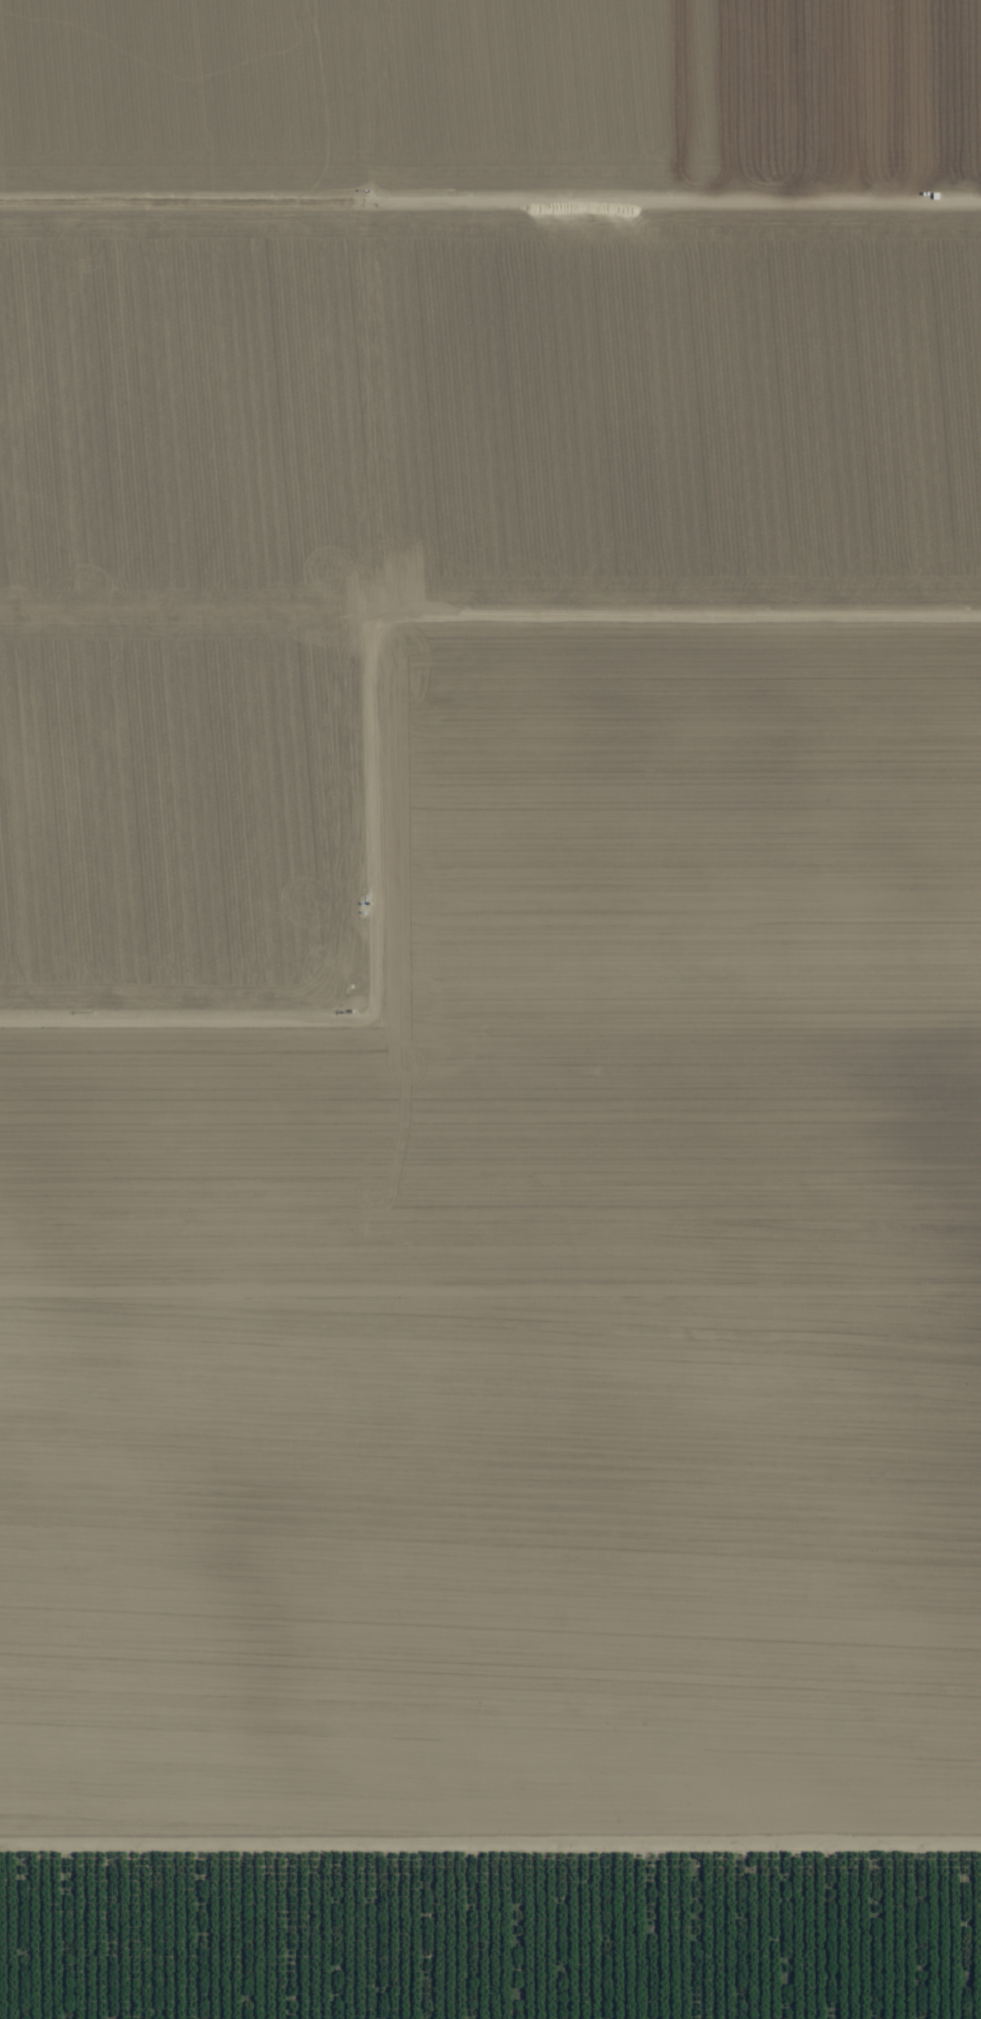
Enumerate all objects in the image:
road: (490, 995)
crop: (490, 1009)
road: (490, 1845)

